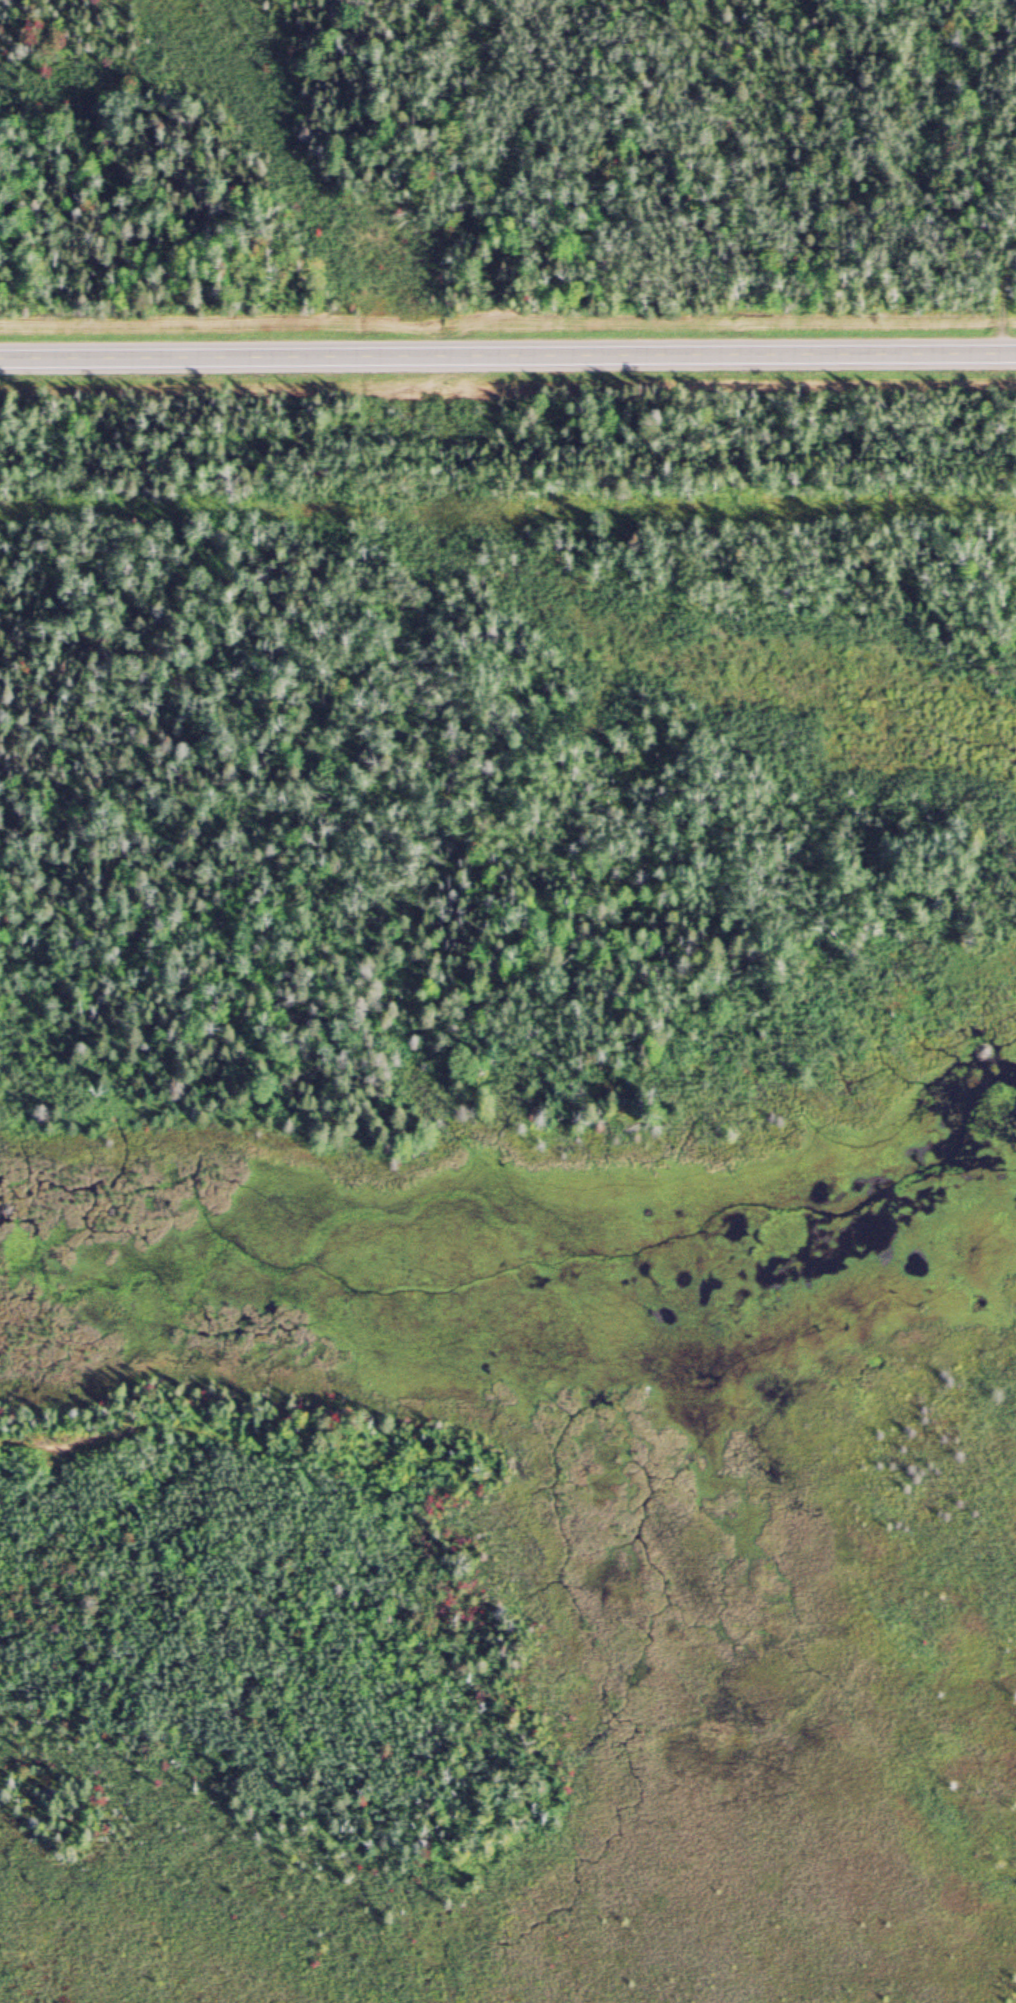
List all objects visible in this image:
road: (508, 351)

